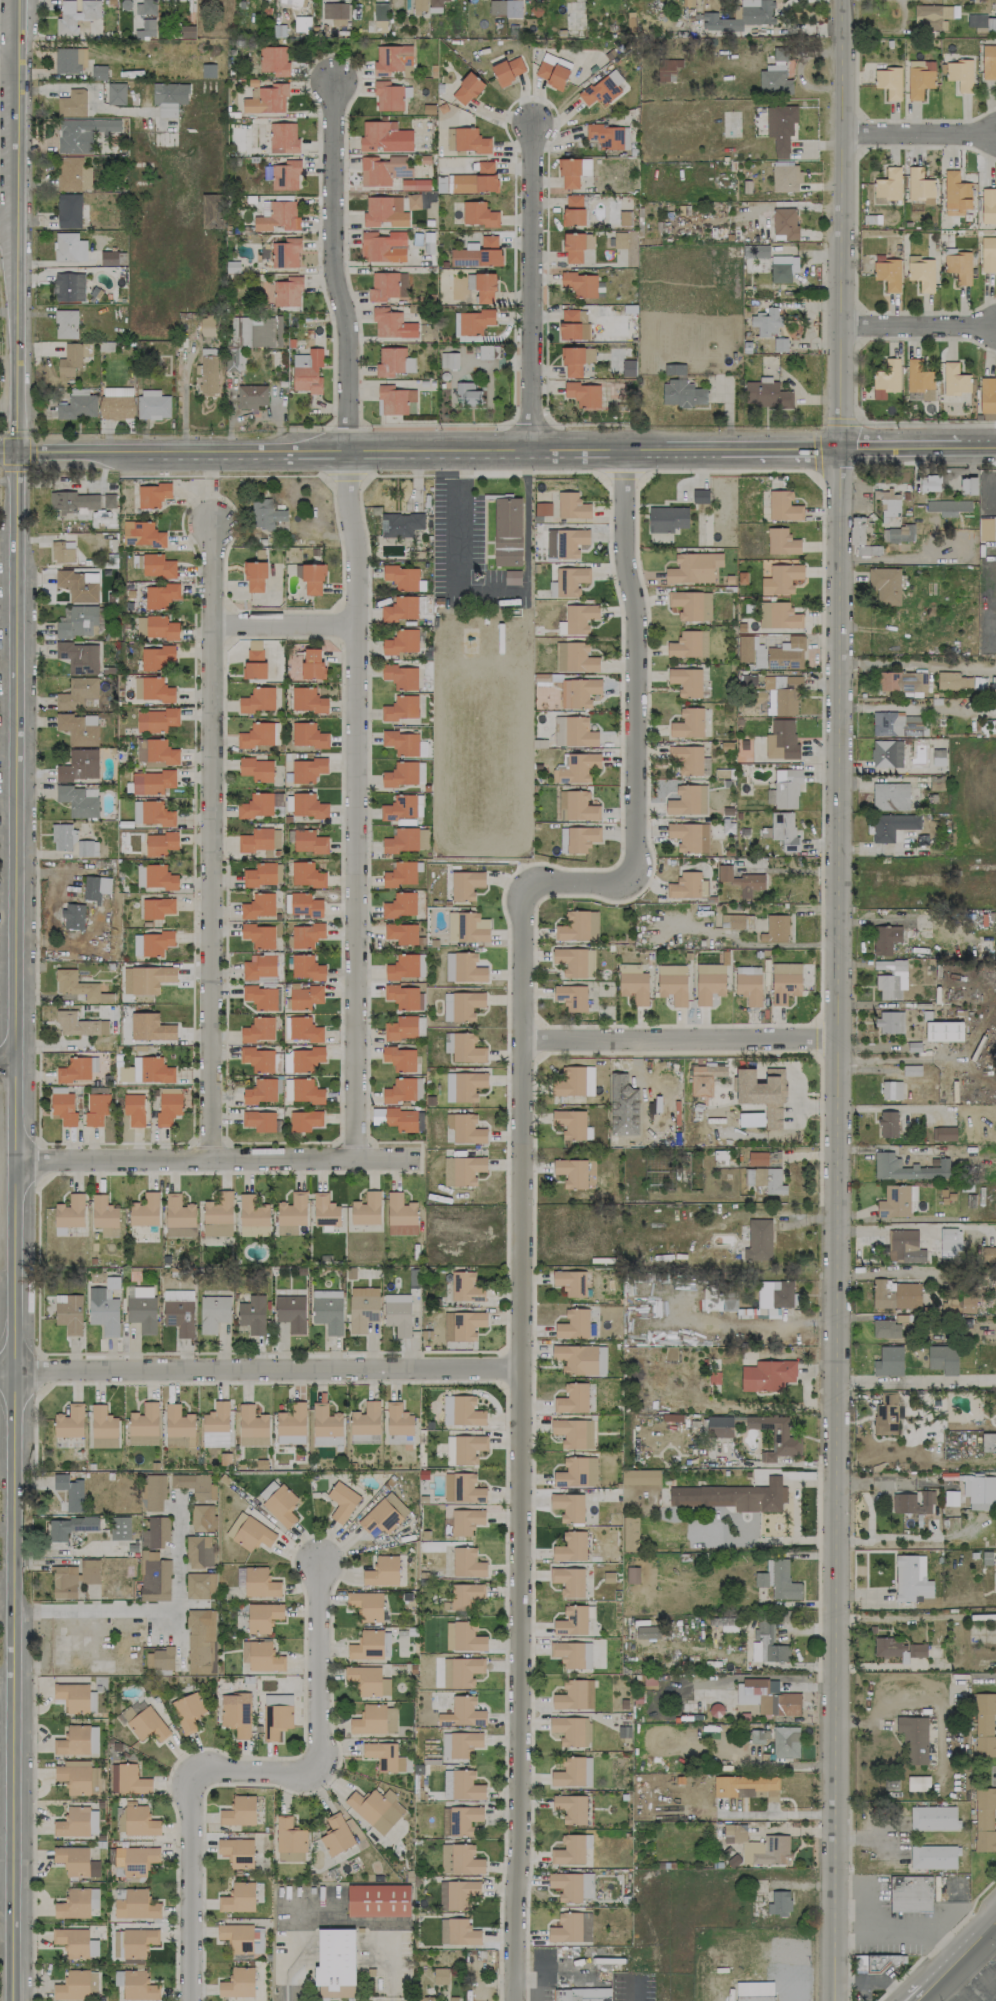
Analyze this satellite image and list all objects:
building: (295, 2)
building: (419, 6)
building: (434, 6)
building: (145, 7)
building: (504, 7)
building: (334, 10)
building: (380, 11)
building: (76, 16)
building: (745, 16)
building: (932, 16)
building: (338, 22)
building: (982, 22)
building: (302, 24)
building: (146, 29)
road: (9, 45)
building: (69, 60)
building: (273, 60)
building: (393, 60)
building: (988, 62)
building: (508, 69)
building: (667, 69)
building: (552, 70)
building: (775, 75)
building: (960, 75)
building: (919, 78)
building: (889, 82)
building: (602, 88)
building: (466, 89)
building: (116, 93)
building: (170, 93)
road: (97, 95)
building: (388, 96)
building: (267, 99)
building: (72, 103)
building: (781, 125)
building: (82, 133)
road: (918, 134)
building: (384, 136)
building: (605, 136)
building: (283, 138)
building: (470, 140)
building: (383, 170)
building: (572, 171)
building: (73, 174)
building: (285, 175)
building: (785, 178)
building: (887, 186)
building: (919, 186)
building: (956, 194)
building: (410, 202)
building: (988, 206)
building: (70, 210)
building: (573, 210)
building: (212, 211)
building: (384, 211)
building: (478, 214)
building: (278, 217)
road: (9, 218)
building: (785, 222)
building: (382, 246)
building: (69, 247)
building: (574, 247)
building: (755, 251)
building: (476, 252)
building: (285, 253)
building: (988, 254)
building: (109, 258)
building: (958, 266)
building: (783, 268)
building: (887, 272)
building: (921, 272)
building: (579, 283)
road: (531, 285)
building: (383, 286)
building: (69, 287)
building: (482, 287)
building: (287, 291)
building: (475, 321)
building: (766, 321)
building: (66, 324)
building: (392, 324)
building: (573, 324)
building: (600, 324)
road: (911, 324)
building: (250, 337)
building: (485, 352)
building: (575, 359)
building: (448, 360)
building: (393, 362)
building: (307, 370)
building: (208, 374)
building: (886, 379)
building: (919, 379)
building: (955, 379)
building: (683, 393)
building: (766, 393)
building: (467, 394)
building: (583, 394)
building: (987, 395)
building: (252, 396)
building: (394, 399)
building: (116, 403)
building: (78, 405)
building: (153, 405)
road: (928, 423)
road: (816, 430)
road: (918, 449)
road: (430, 450)
road: (10, 451)
road: (620, 475)
road: (347, 476)
building: (929, 483)
building: (968, 485)
building: (152, 494)
building: (700, 496)
building: (109, 500)
building: (71, 501)
building: (888, 502)
building: (572, 506)
building: (783, 506)
building: (947, 507)
building: (542, 508)
building: (265, 514)
building: (666, 519)
road: (335, 520)
building: (400, 524)
building: (859, 530)
building: (507, 531)
building: (142, 534)
building: (897, 534)
building: (565, 542)
building: (782, 542)
building: (62, 551)
building: (157, 566)
building: (693, 567)
building: (254, 575)
building: (310, 577)
building: (402, 577)
building: (781, 579)
building: (568, 581)
building: (885, 585)
building: (77, 586)
road: (491, 590)
building: (160, 595)
building: (691, 605)
building: (400, 608)
building: (778, 615)
building: (577, 618)
road: (359, 621)
building: (78, 622)
road: (288, 624)
building: (156, 627)
building: (401, 642)
building: (688, 644)
building: (751, 651)
building: (786, 654)
building: (79, 657)
building: (156, 657)
building: (574, 657)
building: (254, 663)
road: (914, 663)
building: (312, 664)
building: (401, 676)
building: (686, 681)
building: (903, 683)
building: (152, 689)
building: (578, 692)
building: (784, 693)
building: (79, 694)
building: (257, 700)
building: (307, 700)
building: (401, 708)
building: (156, 720)
building: (688, 723)
building: (895, 724)
building: (79, 728)
building: (573, 732)
building: (256, 735)
building: (308, 735)
building: (781, 740)
building: (401, 742)
building: (155, 751)
building: (886, 753)
building: (938, 757)
building: (689, 760)
building: (80, 765)
building: (576, 768)
building: (256, 769)
building: (308, 770)
building: (401, 774)
building: (152, 781)
building: (787, 787)
building: (890, 796)
building: (688, 800)
building: (78, 801)
building: (257, 805)
building: (308, 806)
building: (576, 806)
building: (399, 807)
building: (152, 813)
building: (892, 825)
building: (784, 829)
road: (214, 831)
building: (62, 836)
building: (689, 836)
building: (276, 838)
building: (422, 838)
building: (578, 839)
building: (255, 840)
building: (401, 840)
building: (309, 841)
building: (160, 843)
building: (87, 848)
road: (786, 869)
building: (725, 873)
building: (399, 874)
building: (260, 875)
building: (306, 875)
building: (155, 877)
building: (750, 884)
building: (462, 885)
building: (684, 885)
building: (96, 887)
building: (302, 904)
building: (400, 905)
building: (259, 906)
building: (157, 908)
building: (73, 916)
building: (736, 922)
building: (578, 926)
building: (467, 927)
building: (775, 929)
building: (401, 933)
building: (258, 935)
building: (306, 935)
building: (886, 940)
building: (156, 943)
road: (748, 944)
building: (137, 945)
building: (575, 961)
building: (259, 966)
building: (406, 966)
building: (306, 967)
building: (463, 967)
building: (151, 978)
building: (891, 978)
building: (709, 982)
building: (785, 982)
building: (633, 983)
building: (672, 983)
building: (748, 984)
building: (80, 987)
building: (304, 996)
building: (260, 997)
building: (406, 997)
building: (571, 997)
road: (17, 1000)
road: (833, 1000)
building: (461, 1005)
building: (890, 1022)
building: (79, 1024)
road: (732, 1025)
building: (420, 1026)
building: (150, 1027)
building: (401, 1028)
building: (258, 1029)
building: (303, 1029)
building: (943, 1031)
road: (677, 1040)
building: (466, 1048)
road: (8, 1058)
building: (399, 1058)
building: (258, 1059)
building: (306, 1059)
building: (77, 1069)
building: (152, 1070)
building: (704, 1079)
building: (574, 1081)
building: (463, 1086)
building: (288, 1089)
building: (403, 1090)
building: (891, 1090)
building: (260, 1091)
building: (306, 1091)
building: (763, 1093)
building: (63, 1108)
building: (96, 1108)
building: (168, 1108)
building: (134, 1109)
building: (401, 1119)
building: (259, 1120)
building: (304, 1120)
building: (570, 1123)
building: (888, 1124)
building: (943, 1133)
road: (218, 1154)
building: (763, 1158)
building: (907, 1168)
building: (462, 1170)
road: (520, 1171)
building: (571, 1172)
building: (590, 1173)
building: (766, 1179)
building: (896, 1200)
building: (292, 1209)
building: (366, 1209)
building: (145, 1210)
building: (325, 1210)
building: (70, 1211)
building: (252, 1211)
building: (218, 1215)
building: (400, 1215)
building: (104, 1216)
building: (179, 1217)
building: (287, 1229)
building: (254, 1231)
building: (758, 1240)
building: (949, 1242)
building: (904, 1246)
building: (988, 1254)
road: (505, 1271)
building: (570, 1282)
building: (465, 1287)
building: (776, 1294)
building: (895, 1294)
building: (719, 1299)
building: (958, 1305)
building: (141, 1308)
building: (362, 1308)
building: (328, 1310)
building: (179, 1311)
building: (213, 1312)
building: (291, 1312)
building: (397, 1313)
building: (70, 1314)
building: (252, 1314)
building: (105, 1315)
building: (462, 1325)
building: (573, 1325)
building: (886, 1329)
building: (580, 1359)
building: (943, 1359)
building: (888, 1361)
road: (258, 1368)
building: (767, 1375)
road: (906, 1380)
building: (572, 1398)
building: (461, 1411)
building: (886, 1414)
building: (365, 1419)
building: (398, 1420)
building: (69, 1422)
building: (291, 1424)
building: (144, 1425)
building: (216, 1425)
building: (326, 1426)
building: (103, 1427)
building: (178, 1427)
building: (252, 1427)
building: (719, 1427)
building: (573, 1433)
building: (775, 1436)
building: (988, 1442)
building: (464, 1449)
building: (577, 1472)
building: (640, 1476)
road: (849, 1483)
building: (195, 1485)
building: (462, 1488)
building: (267, 1490)
building: (70, 1491)
building: (154, 1492)
building: (979, 1492)
building: (733, 1496)
building: (342, 1501)
building: (913, 1502)
building: (281, 1505)
building: (568, 1507)
building: (384, 1513)
road: (869, 1514)
building: (202, 1516)
building: (465, 1521)
building: (235, 1524)
building: (69, 1526)
building: (155, 1532)
building: (771, 1532)
building: (253, 1534)
road: (896, 1537)
road: (844, 1540)
building: (570, 1547)
building: (199, 1551)
road: (178, 1558)
building: (467, 1563)
building: (382, 1571)
building: (632, 1575)
building: (240, 1576)
building: (74, 1577)
building: (911, 1578)
building: (761, 1579)
building: (568, 1581)
building: (783, 1581)
building: (260, 1583)
building: (200, 1585)
building: (465, 1595)
building: (366, 1605)
road: (98, 1609)
building: (263, 1617)
building: (571, 1621)
building: (647, 1632)
building: (467, 1637)
building: (201, 1641)
building: (367, 1645)
building: (767, 1645)
building: (887, 1647)
building: (917, 1650)
building: (572, 1654)
building: (261, 1656)
building: (159, 1659)
road: (322, 1664)
building: (461, 1671)
building: (368, 1680)
building: (574, 1695)
building: (73, 1697)
building: (766, 1697)
building: (133, 1710)
building: (188, 1711)
building: (236, 1713)
building: (462, 1713)
building: (276, 1720)
building: (375, 1720)
building: (984, 1724)
building: (147, 1725)
building: (571, 1730)
building: (758, 1736)
building: (914, 1738)
building: (78, 1740)
building: (785, 1742)
building: (459, 1744)
building: (384, 1756)
road: (258, 1769)
building: (573, 1772)
building: (78, 1778)
building: (113, 1778)
building: (131, 1780)
building: (918, 1783)
building: (465, 1785)
building: (746, 1786)
building: (375, 1808)
building: (571, 1808)
building: (239, 1811)
road: (776, 1814)
building: (933, 1818)
building: (460, 1819)
building: (984, 1819)
building: (139, 1820)
building: (78, 1822)
building: (336, 1835)
road: (869, 1837)
building: (289, 1841)
building: (759, 1846)
building: (571, 1849)
building: (237, 1852)
building: (933, 1857)
building: (445, 1858)
building: (465, 1859)
building: (73, 1860)
building: (135, 1860)
road: (193, 1886)
building: (572, 1886)
building: (911, 1893)
building: (457, 1894)
road: (864, 1896)
building: (238, 1898)
building: (378, 1900)
building: (779, 1903)
building: (74, 1904)
building: (136, 1905)
road: (340, 1921)
road: (940, 1921)
building: (571, 1927)
road: (7, 1929)
building: (443, 1931)
building: (462, 1932)
road: (892, 1932)
building: (242, 1938)
building: (72, 1941)
building: (138, 1941)
building: (93, 1947)
road: (962, 1956)
building: (876, 1961)
building: (335, 1963)
building: (440, 1976)
road: (978, 1977)
building: (93, 1982)
building: (238, 1983)
building: (73, 1985)
building: (138, 1986)
building: (754, 1991)
building: (561, 1993)
road: (922, 1995)

